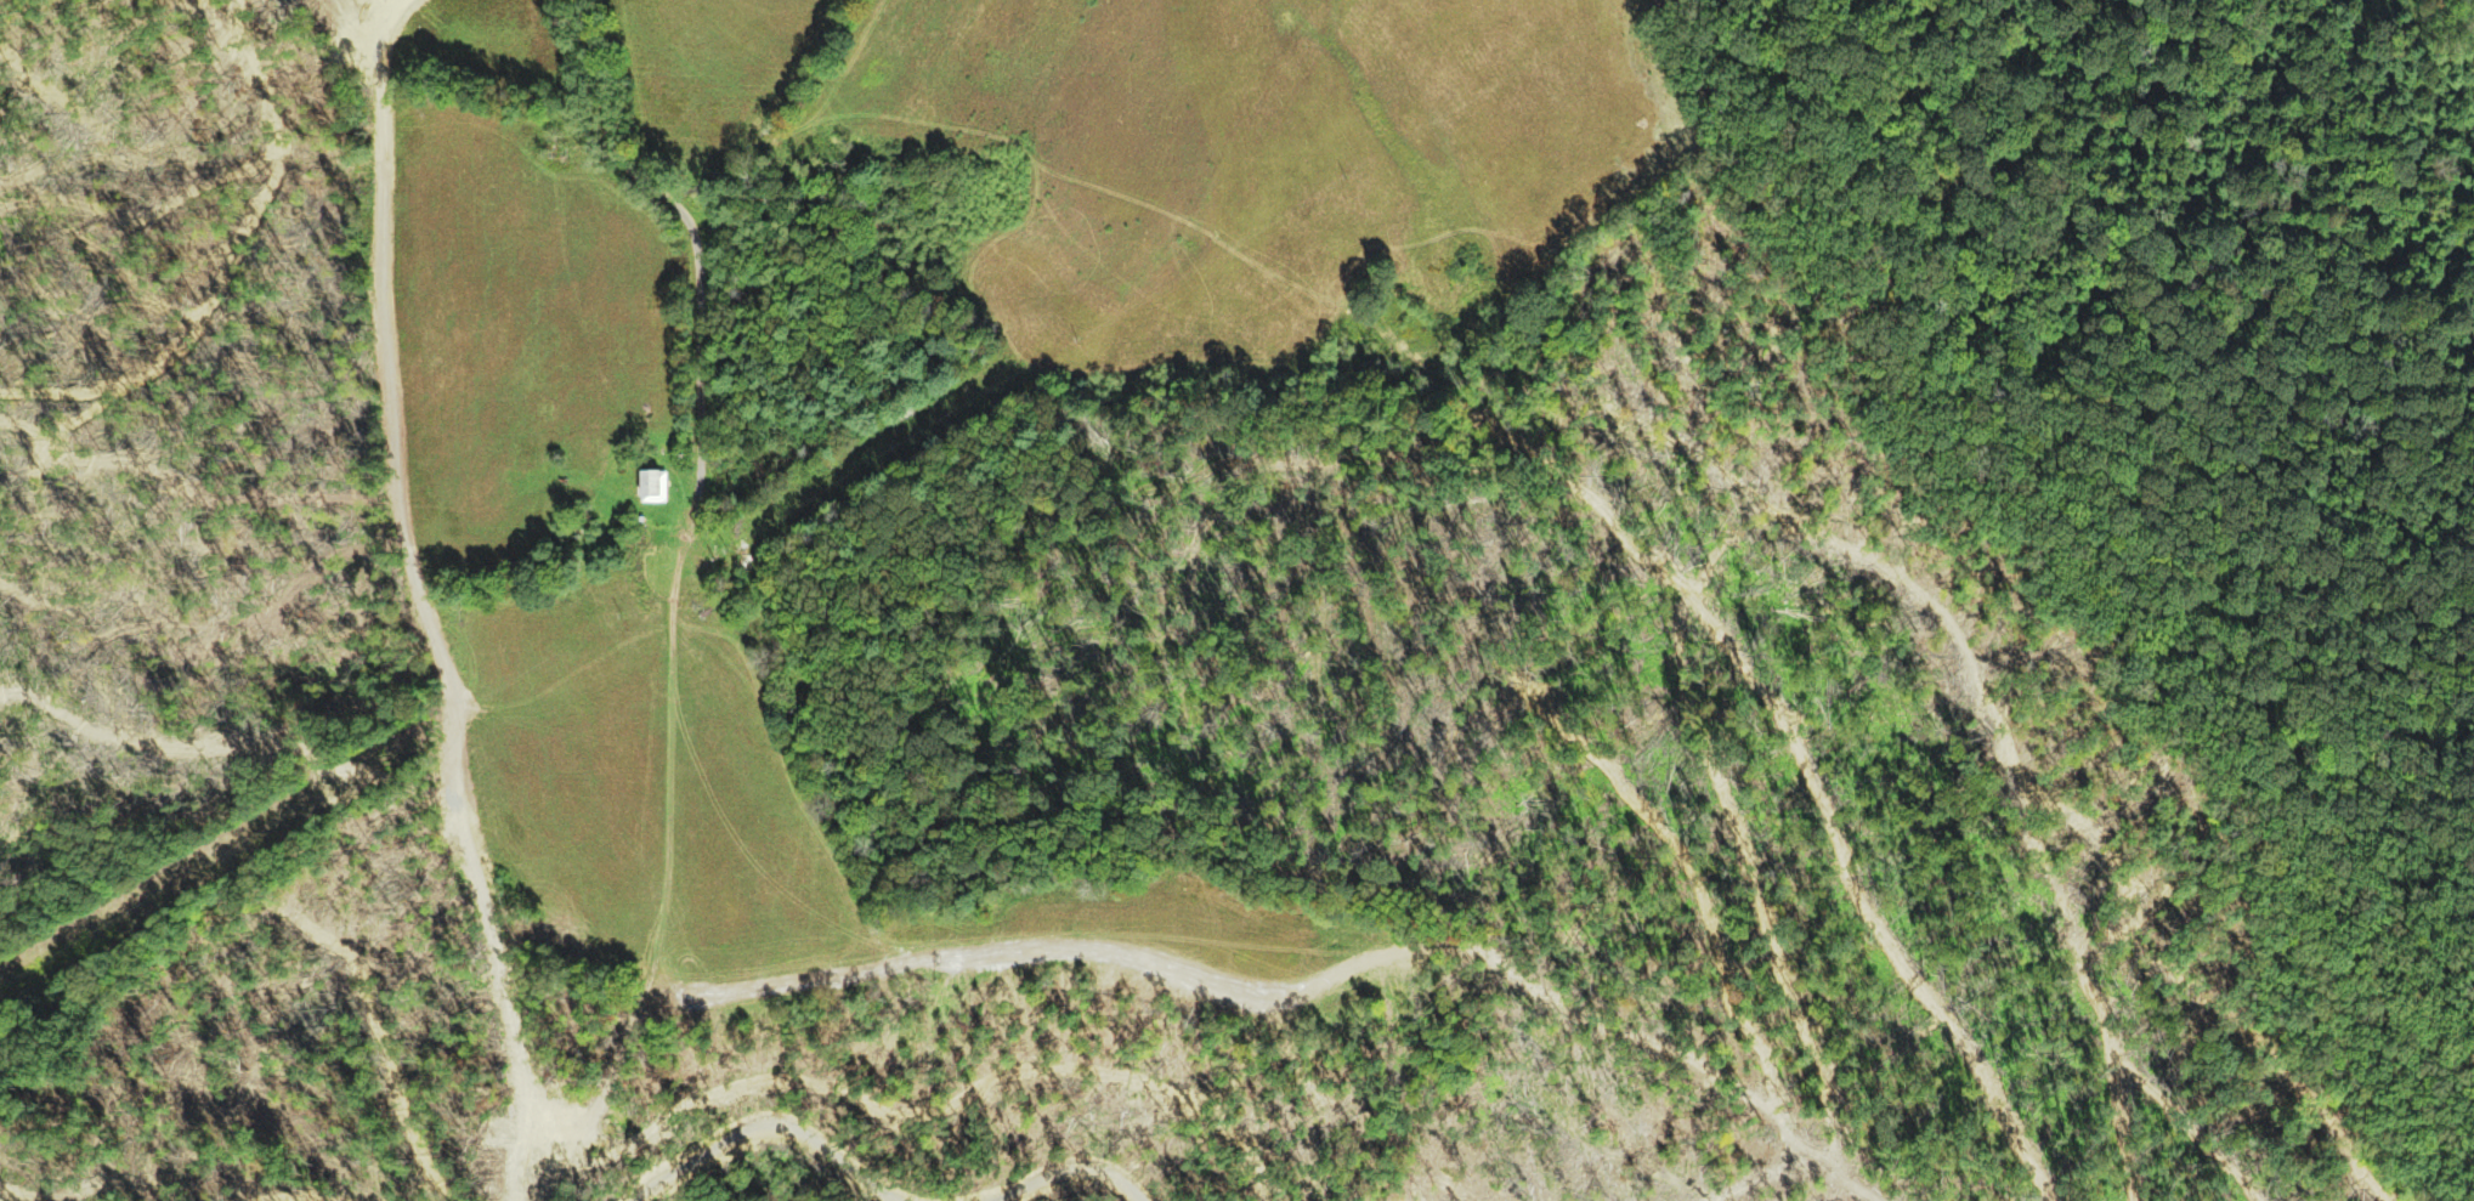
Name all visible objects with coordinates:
road: (684, 226)
building: (652, 487)

